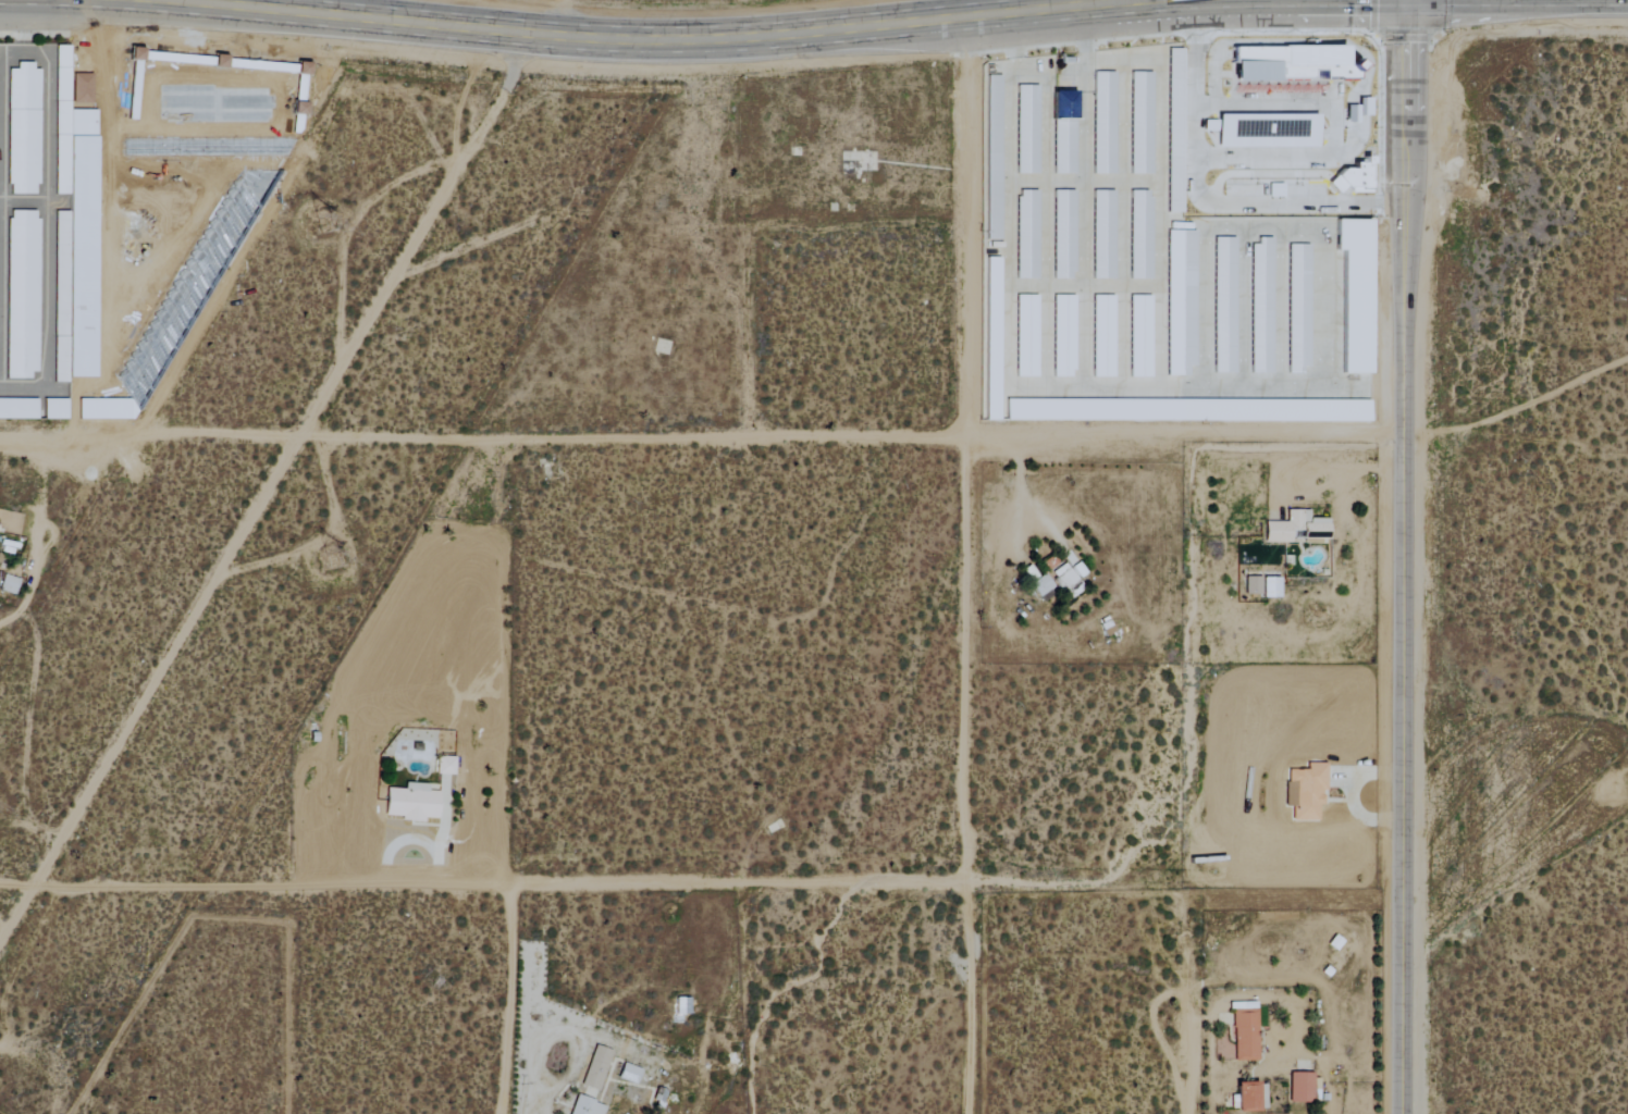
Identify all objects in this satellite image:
road: (638, 46)
road: (1009, 50)
building: (63, 70)
road: (1027, 79)
road: (1199, 91)
building: (1105, 123)
building: (1143, 123)
building: (23, 129)
building: (1028, 129)
building: (1065, 133)
building: (995, 158)
building: (1355, 178)
road: (1122, 183)
road: (1160, 187)
road: (23, 202)
road: (47, 220)
road: (1122, 226)
power tower: (326, 228)
building: (1028, 234)
building: (1065, 235)
building: (1105, 235)
building: (1142, 235)
road: (1206, 272)
road: (1009, 285)
road: (1046, 285)
road: (1046, 287)
road: (1122, 288)
building: (23, 295)
building: (1358, 295)
building: (1183, 302)
building: (1226, 306)
building: (1262, 307)
building: (1299, 308)
road: (1245, 311)
road: (741, 336)
building: (1027, 336)
building: (1065, 336)
building: (1105, 336)
building: (1142, 336)
building: (994, 339)
road: (1192, 391)
road: (1517, 401)
building: (18, 409)
building: (55, 409)
building: (1318, 411)
road: (703, 442)
road: (280, 475)
road: (36, 528)
building: (1297, 528)
road: (1406, 557)
road: (966, 570)
power tower: (334, 573)
building: (1065, 578)
building: (1254, 585)
building: (1043, 586)
building: (1272, 587)
road: (12, 618)
building: (446, 766)
road: (1199, 776)
building: (1307, 791)
building: (412, 803)
road: (702, 880)
road: (507, 999)
building: (683, 1005)
building: (1247, 1032)
building: (596, 1067)
building: (630, 1074)
building: (1303, 1087)
building: (1250, 1096)
building: (587, 1106)

